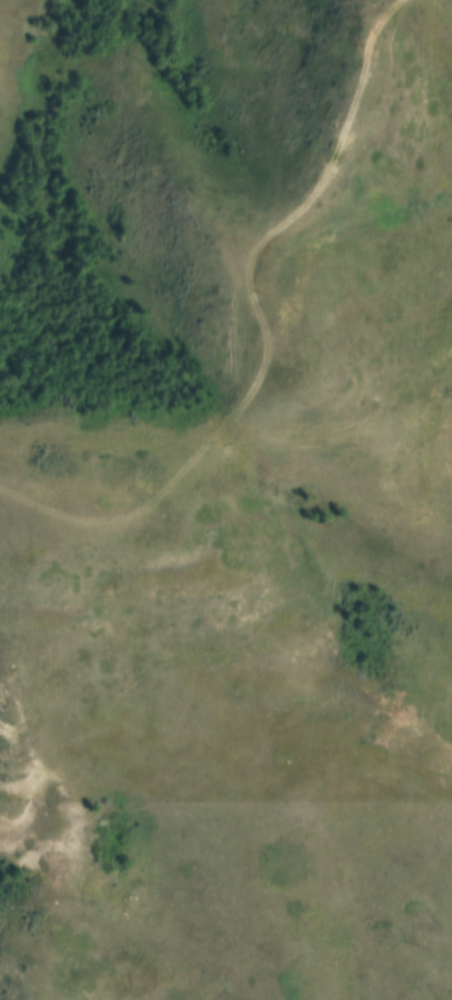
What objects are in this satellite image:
road: (274, 329)

